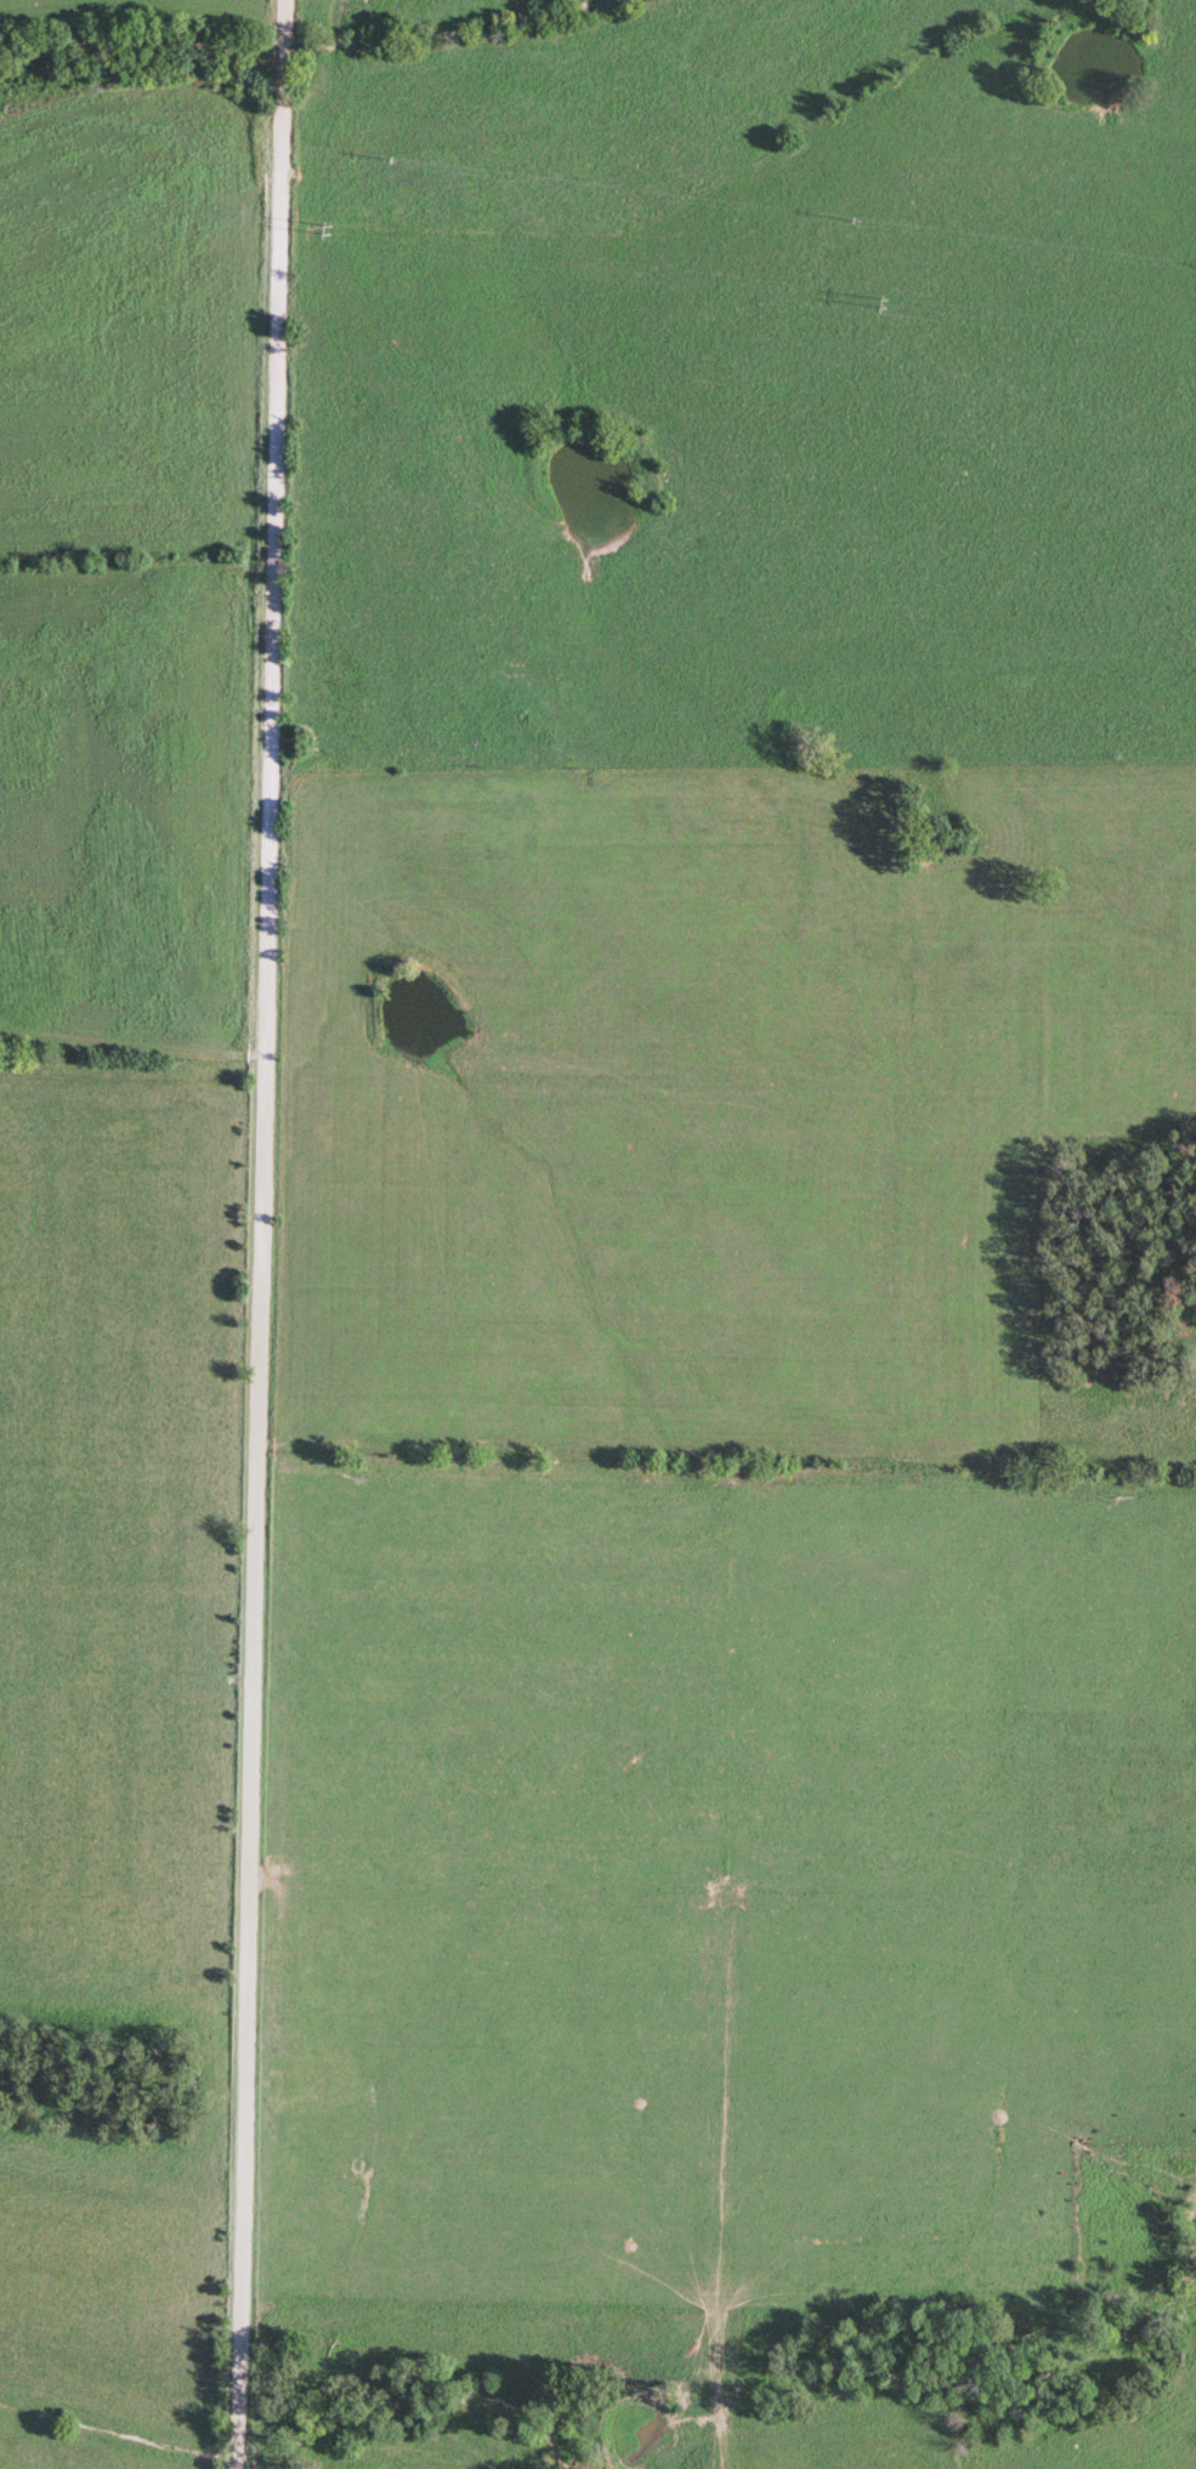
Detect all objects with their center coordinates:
road: (261, 1234)

